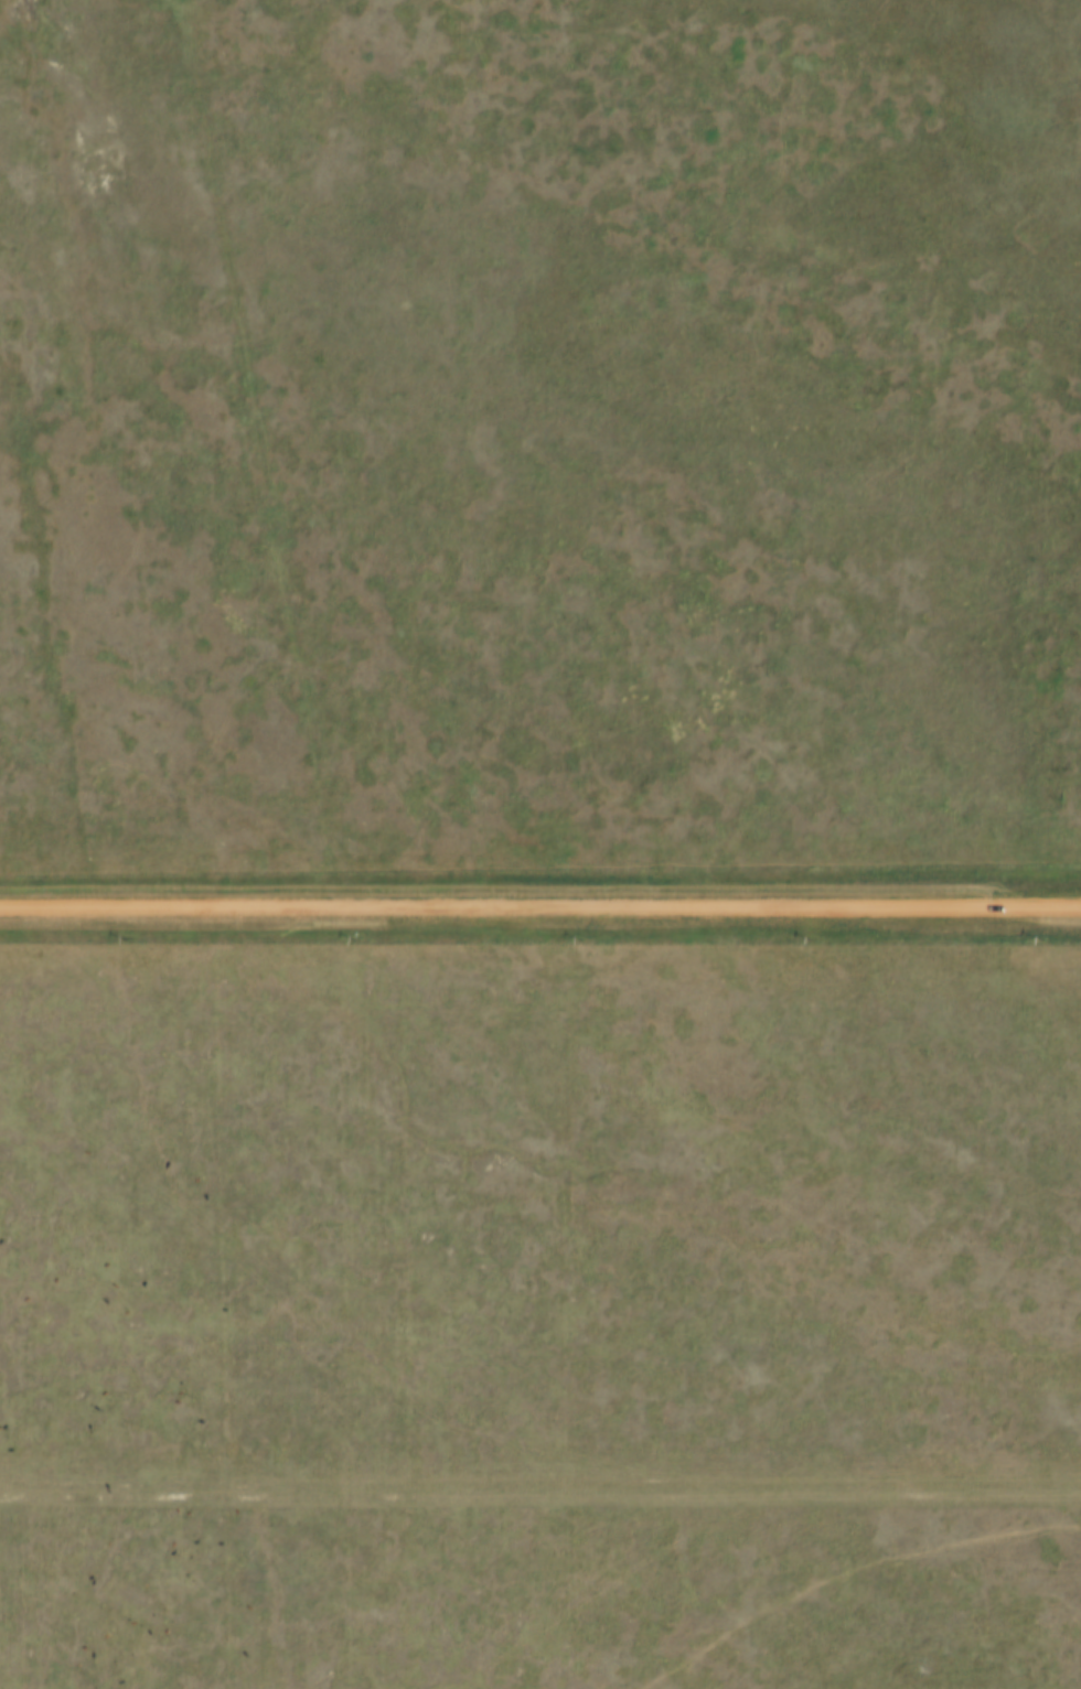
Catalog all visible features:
road: (540, 911)

